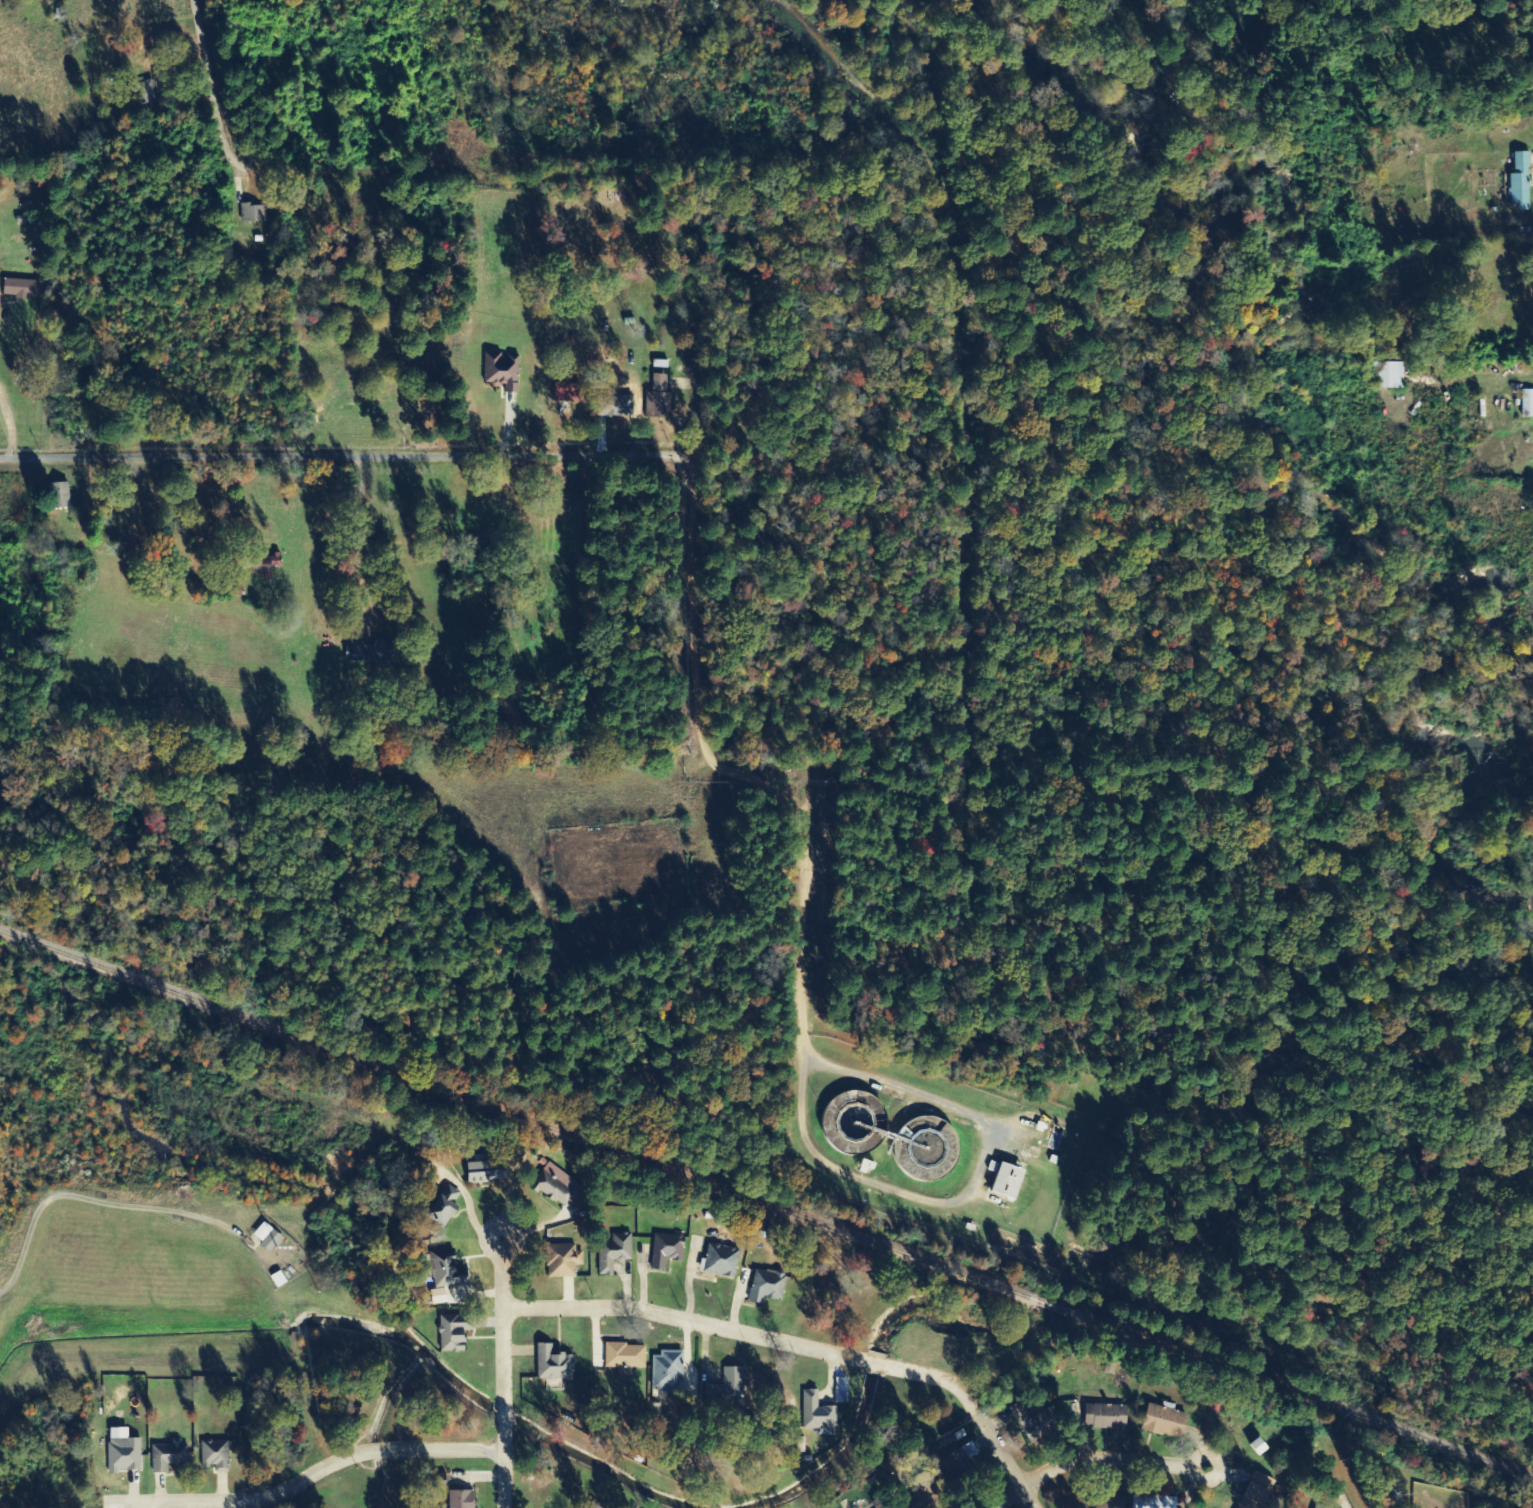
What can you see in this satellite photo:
road: (221, 86)
building: (1518, 183)
building: (251, 214)
building: (20, 290)
building: (500, 373)
building: (1387, 376)
building: (562, 394)
building: (1527, 404)
building: (613, 407)
road: (349, 450)
building: (58, 496)
building: (264, 566)
building: (365, 655)
road: (804, 994)
railway: (511, 1114)
building: (1037, 1128)
wastewater plant: (929, 1150)
building: (1051, 1161)
building: (862, 1168)
building: (480, 1175)
building: (1002, 1181)
building: (549, 1191)
road: (93, 1203)
building: (440, 1209)
building: (265, 1240)
building: (664, 1252)
building: (611, 1255)
building: (719, 1262)
building: (560, 1263)
building: (443, 1272)
building: (764, 1288)
building: (436, 1298)
railway: (1058, 1311)
building: (451, 1334)
road: (801, 1346)
building: (622, 1359)
building: (551, 1365)
building: (663, 1374)
road: (503, 1378)
building: (723, 1396)
building: (838, 1398)
building: (774, 1403)
railway: (1313, 1403)
building: (814, 1413)
building: (1103, 1417)
building: (1162, 1422)
building: (1043, 1428)
building: (949, 1439)
building: (1255, 1447)
building: (967, 1451)
building: (213, 1455)
building: (121, 1456)
building: (166, 1457)
road: (1090, 1461)
building: (978, 1479)
road: (305, 1480)
building: (1255, 1492)
building: (923, 1494)
building: (458, 1500)
building: (1151, 1502)
building: (1103, 1504)
road: (150, 1505)
building: (593, 1506)
building: (1314, 1507)

